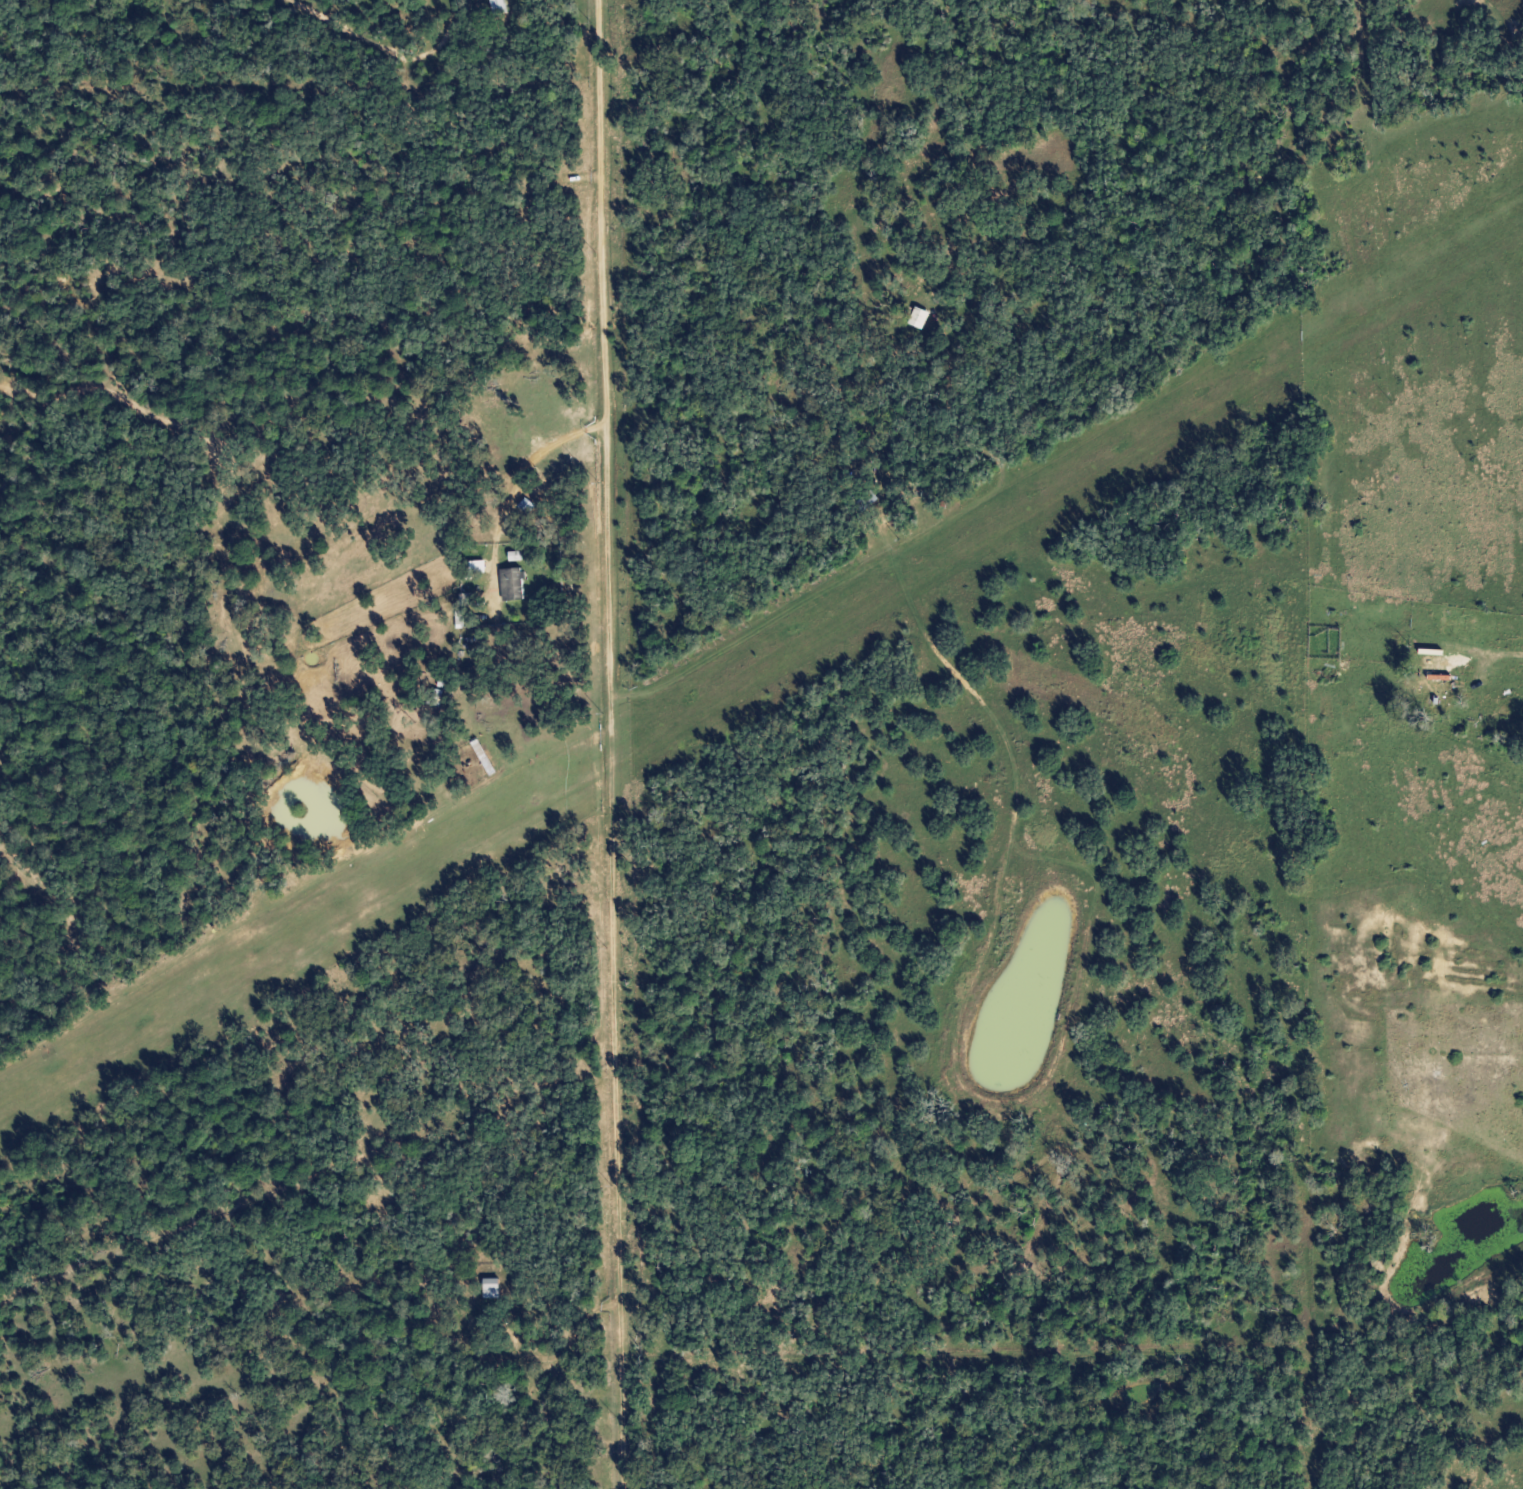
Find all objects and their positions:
building: (496, 6)
building: (916, 317)
building: (524, 505)
building: (510, 584)
road: (1515, 607)
building: (1433, 687)
building: (488, 1288)

